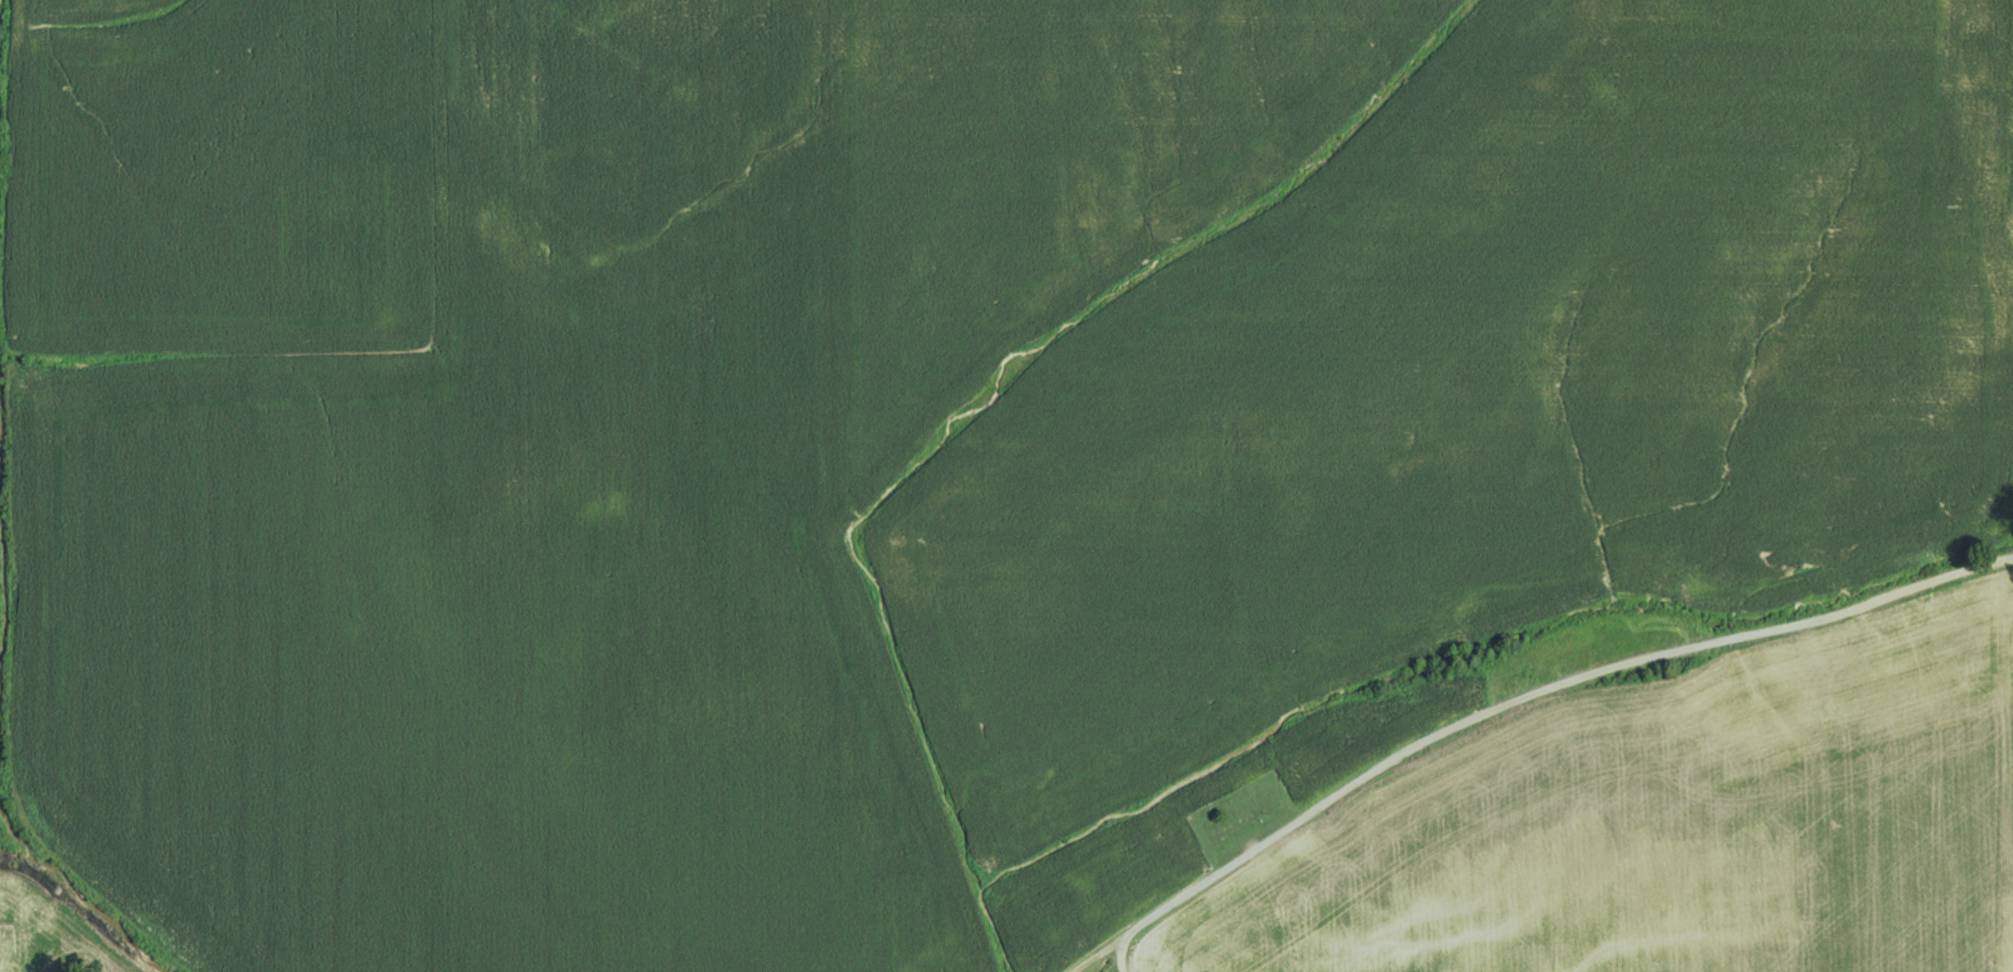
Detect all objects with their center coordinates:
road: (1527, 696)
park: (1244, 818)
road: (1102, 952)

